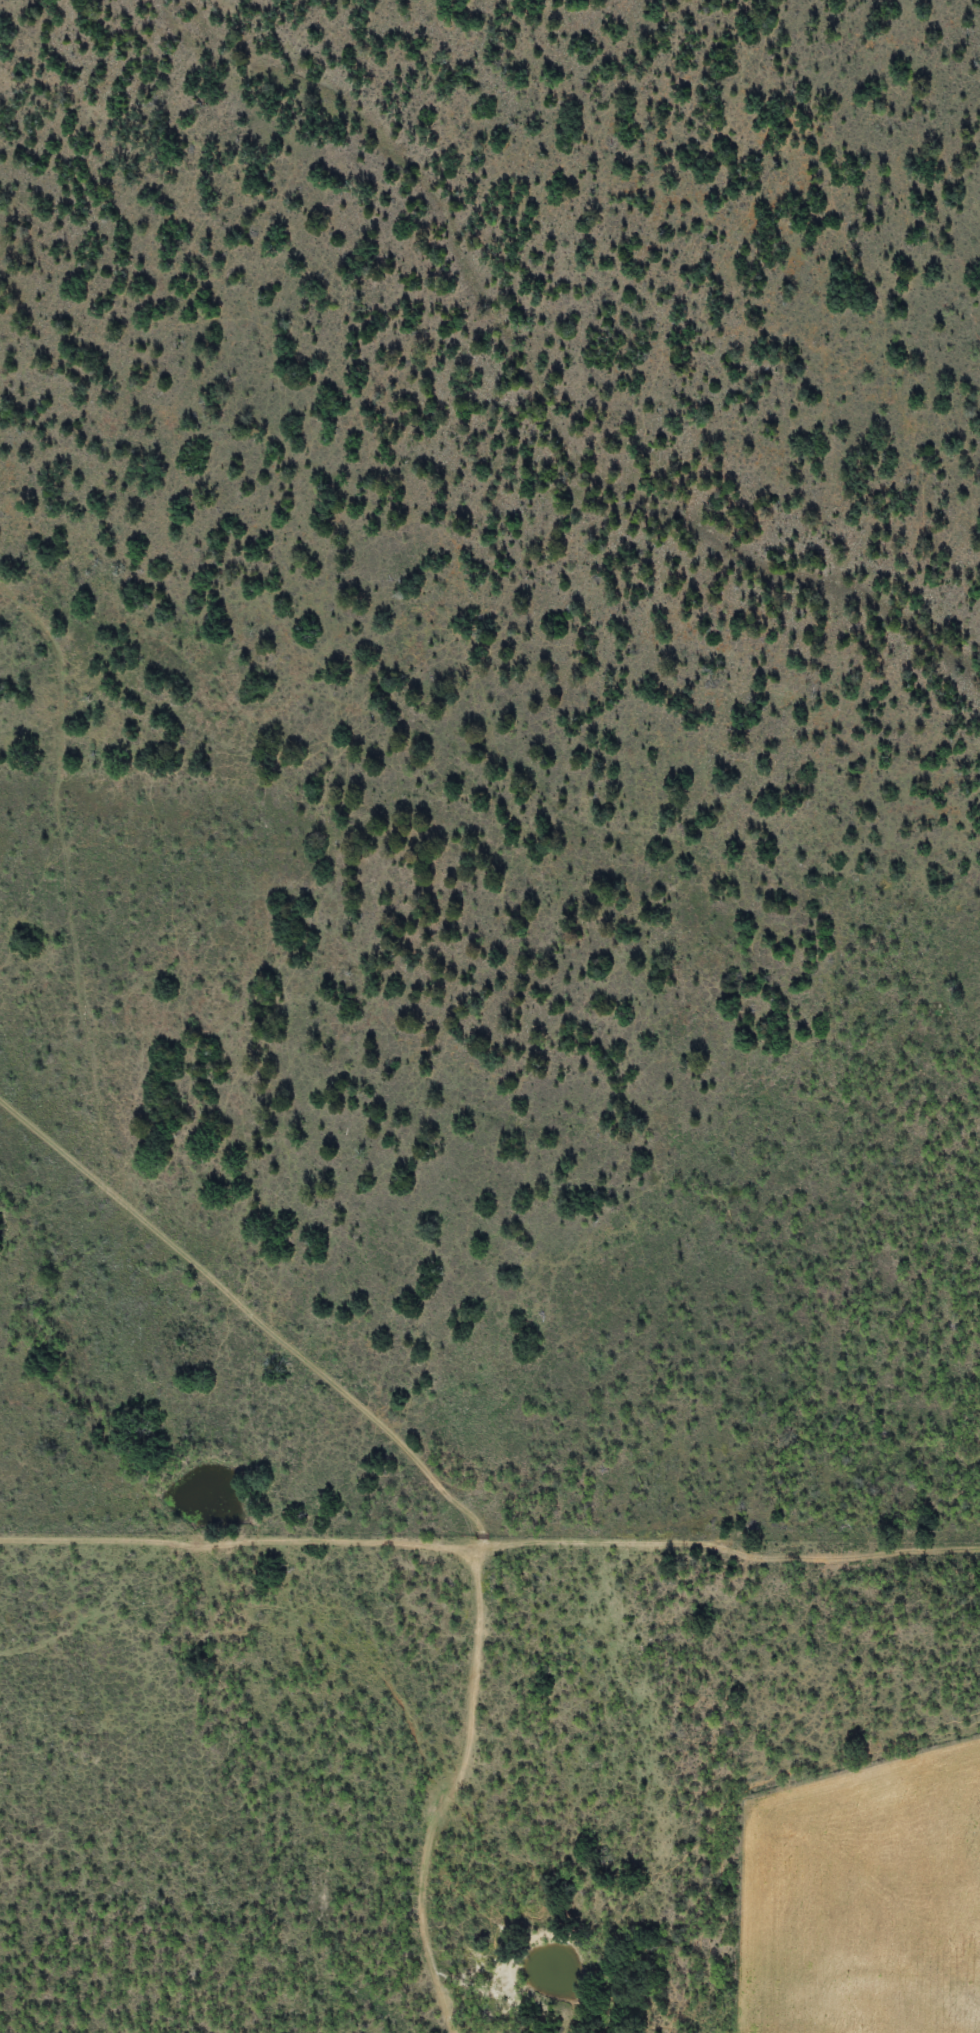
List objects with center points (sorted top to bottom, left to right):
road: (191, 1234)
road: (368, 1689)

